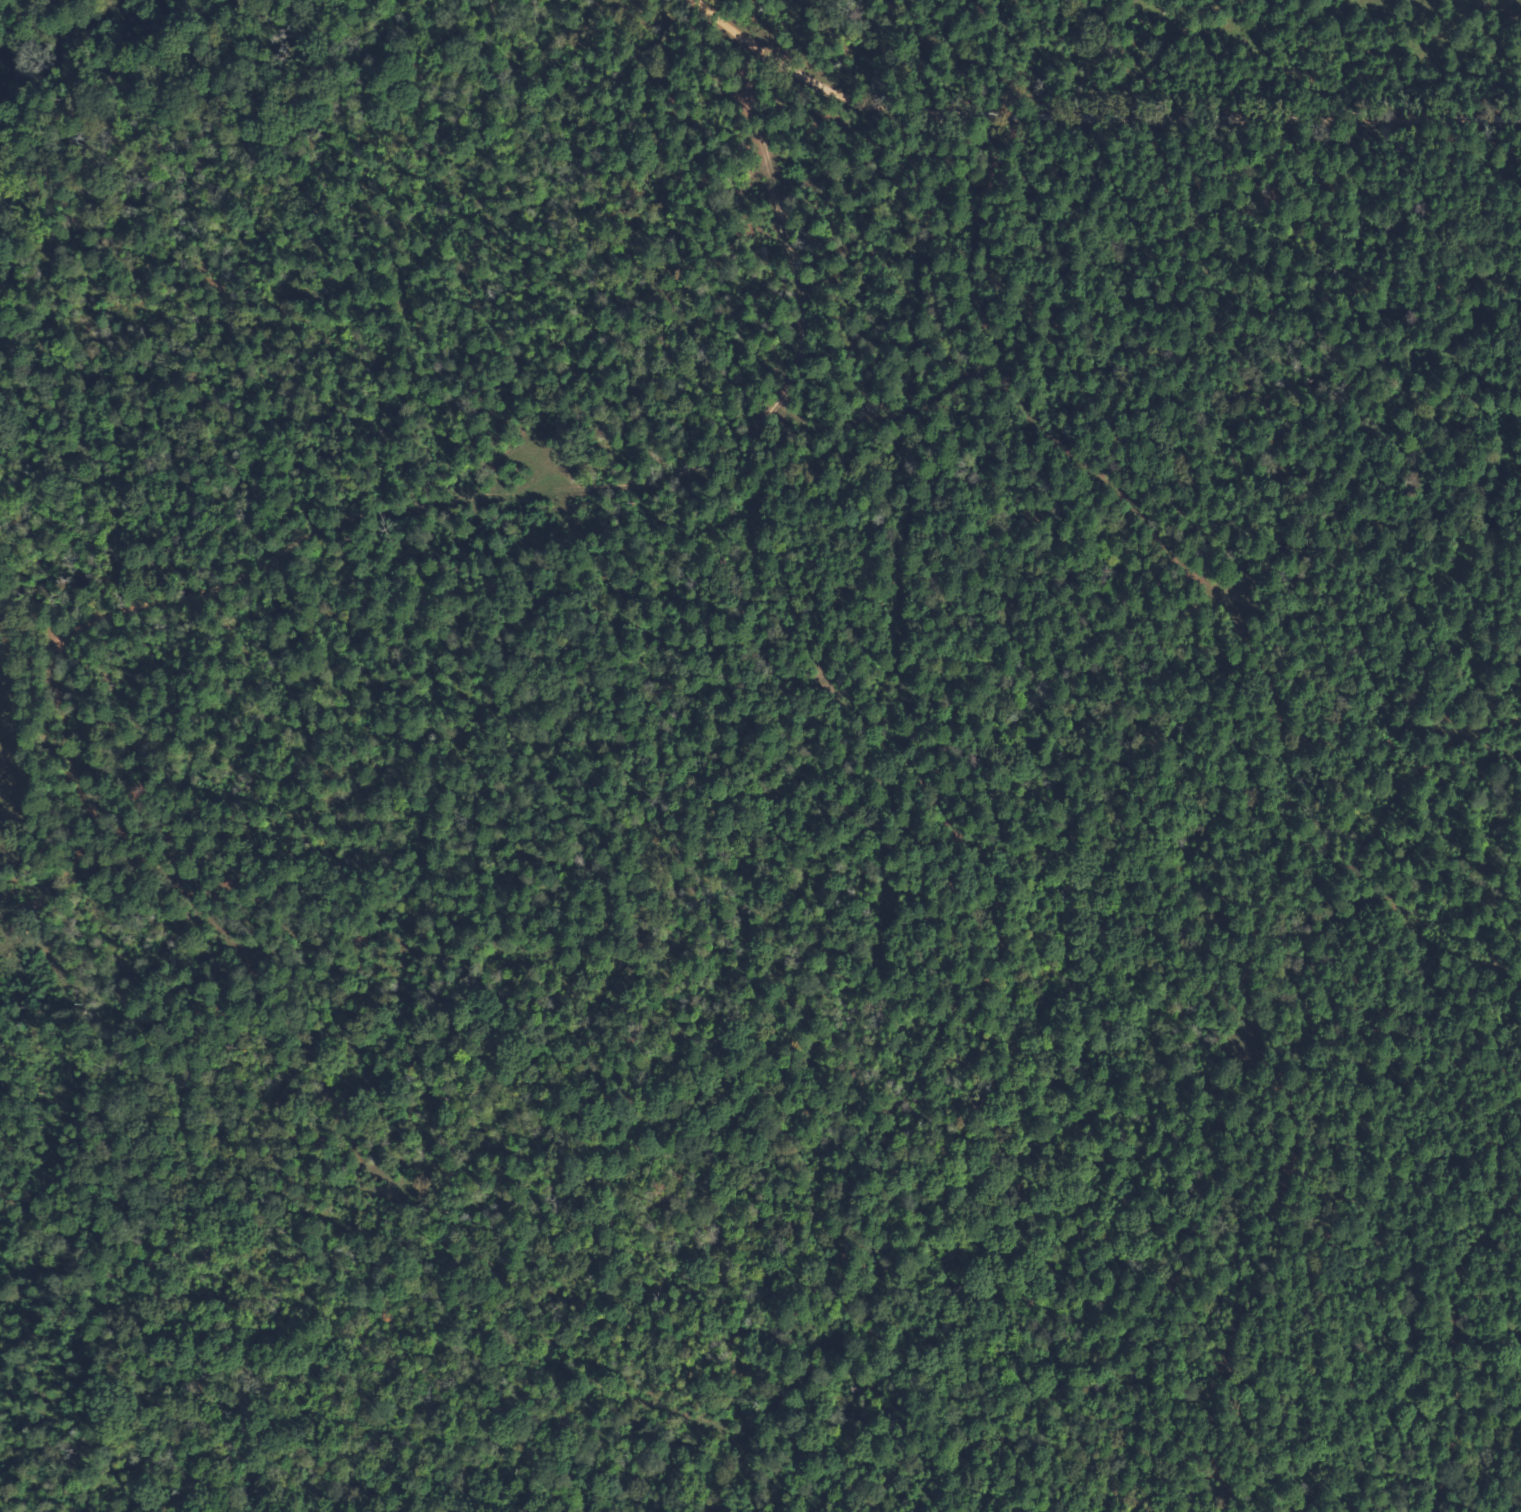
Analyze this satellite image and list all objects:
road: (1102, 111)
road: (683, 703)

